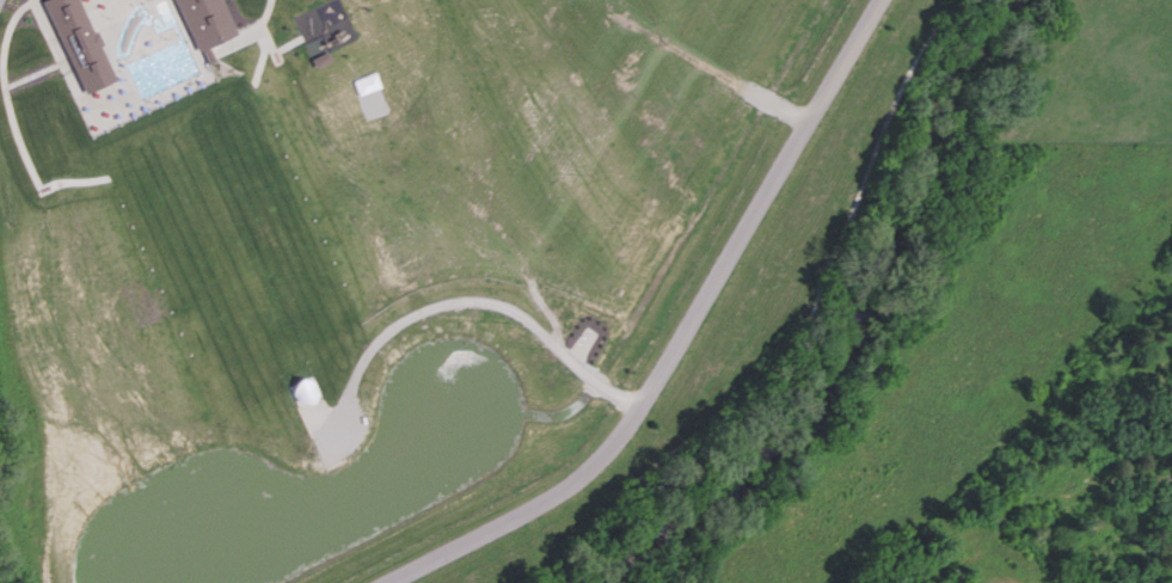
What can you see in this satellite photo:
road: (1107, 243)
road: (466, 299)
road: (677, 337)
road: (894, 434)

